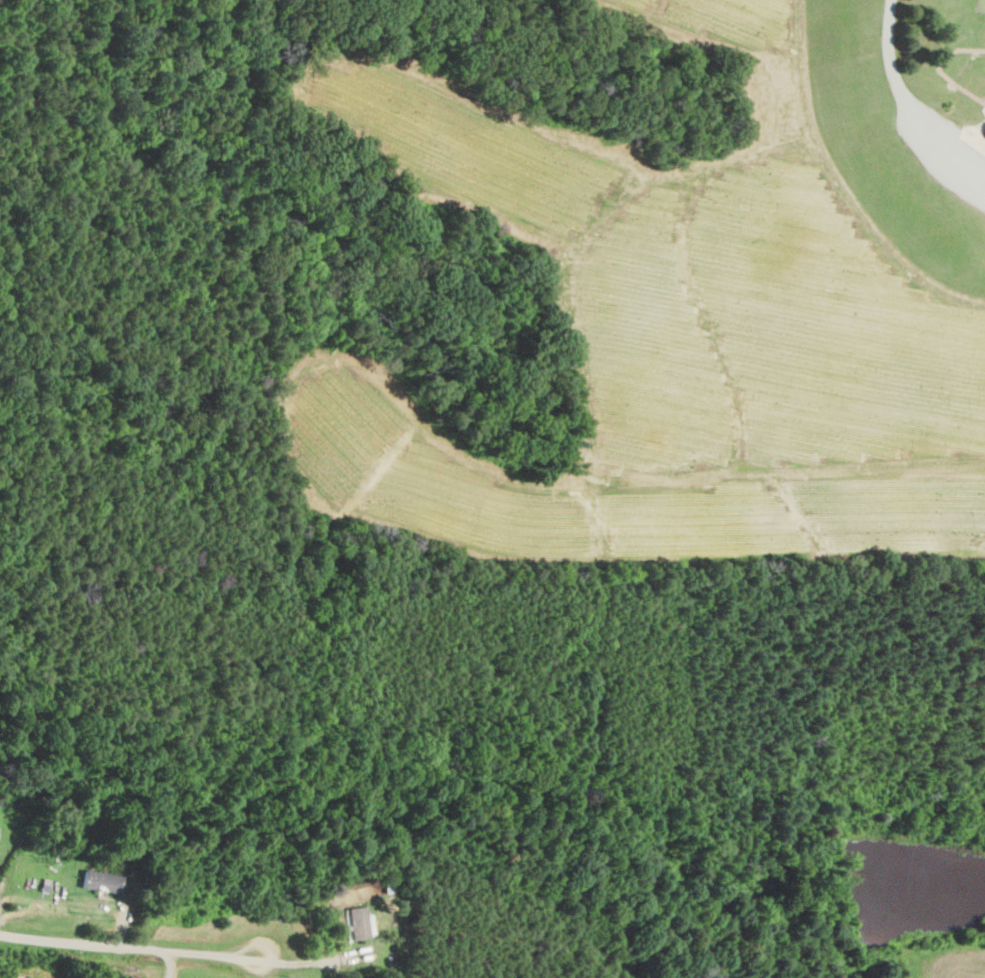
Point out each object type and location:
road: (894, 71)
building: (101, 880)
building: (358, 921)
road: (125, 942)
road: (170, 961)

